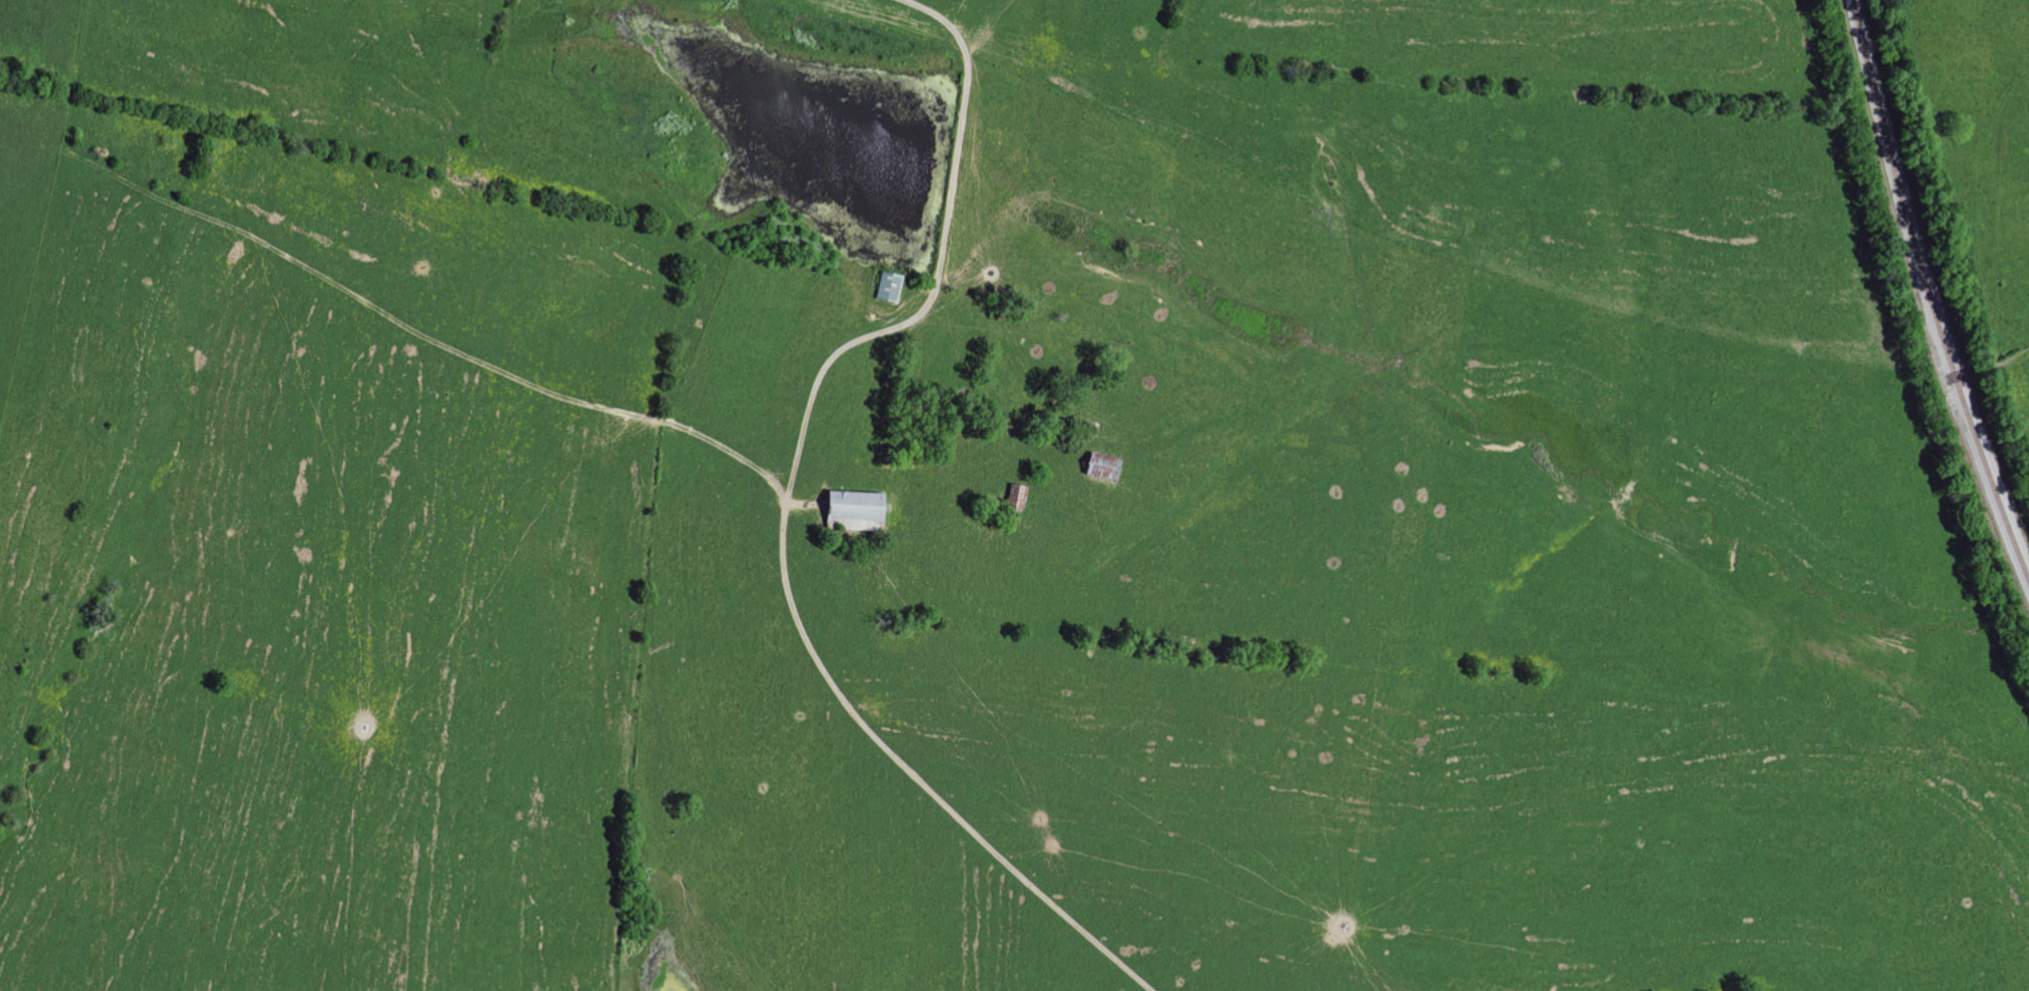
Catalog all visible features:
railway: (1933, 301)

